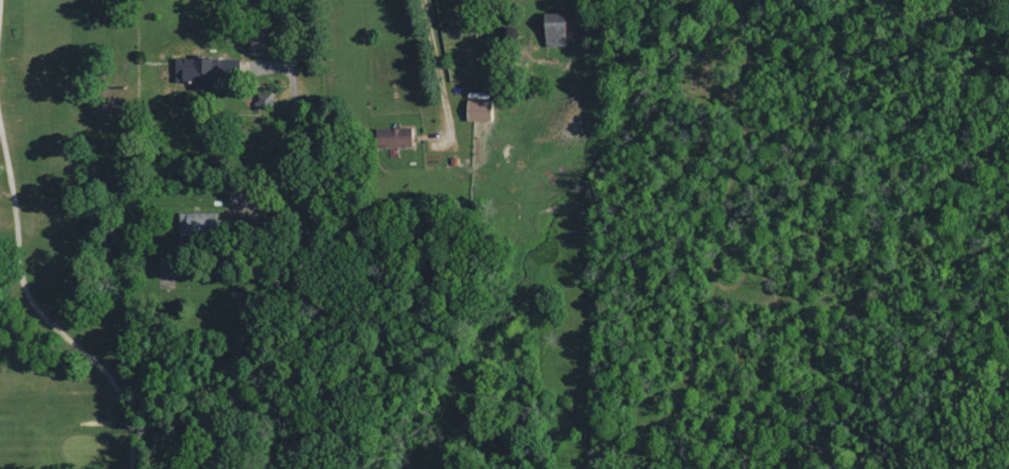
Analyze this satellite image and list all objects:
building: (551, 28)
road: (435, 72)
building: (196, 73)
road: (286, 89)
building: (263, 98)
building: (476, 109)
building: (391, 136)
building: (195, 221)
park: (90, 238)

